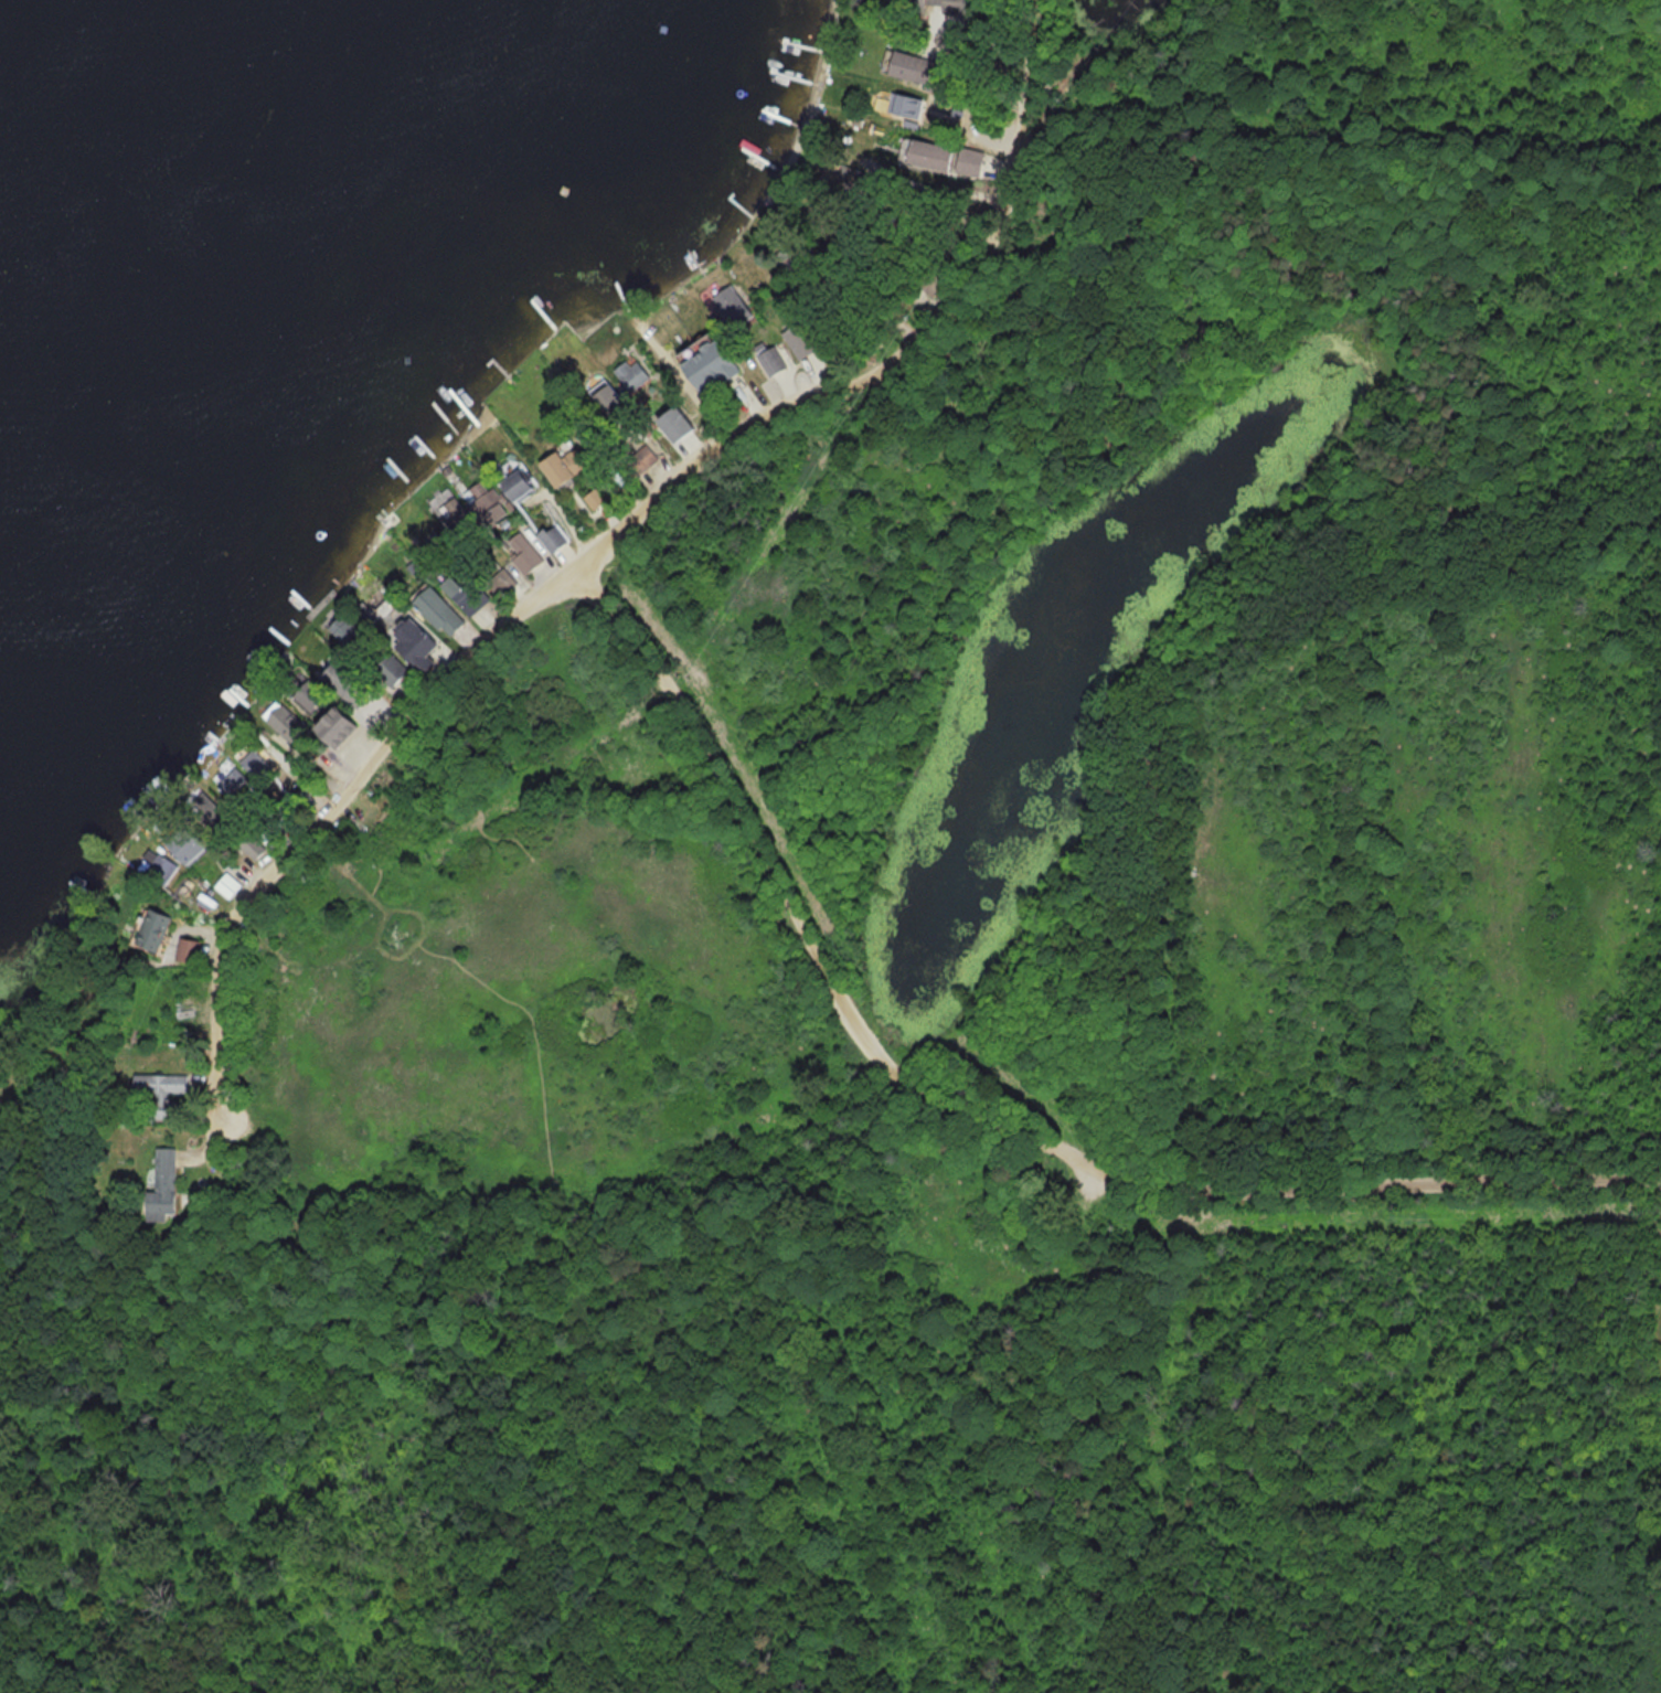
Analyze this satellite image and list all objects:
building: (905, 10)
building: (909, 68)
building: (902, 105)
building: (924, 156)
building: (966, 163)
building: (805, 339)
building: (771, 358)
building: (714, 365)
building: (631, 374)
building: (617, 407)
building: (682, 423)
building: (646, 457)
building: (564, 466)
building: (519, 485)
building: (487, 500)
building: (459, 520)
building: (554, 537)
road: (609, 539)
building: (504, 581)
building: (470, 593)
building: (443, 611)
building: (348, 629)
building: (419, 640)
building: (395, 669)
building: (349, 682)
building: (286, 727)
building: (255, 764)
building: (232, 781)
building: (187, 844)
building: (255, 845)
building: (157, 865)
building: (230, 885)
building: (156, 928)
building: (191, 949)
road: (832, 967)
park: (971, 992)
building: (163, 1092)
road: (1445, 1183)
building: (164, 1185)

